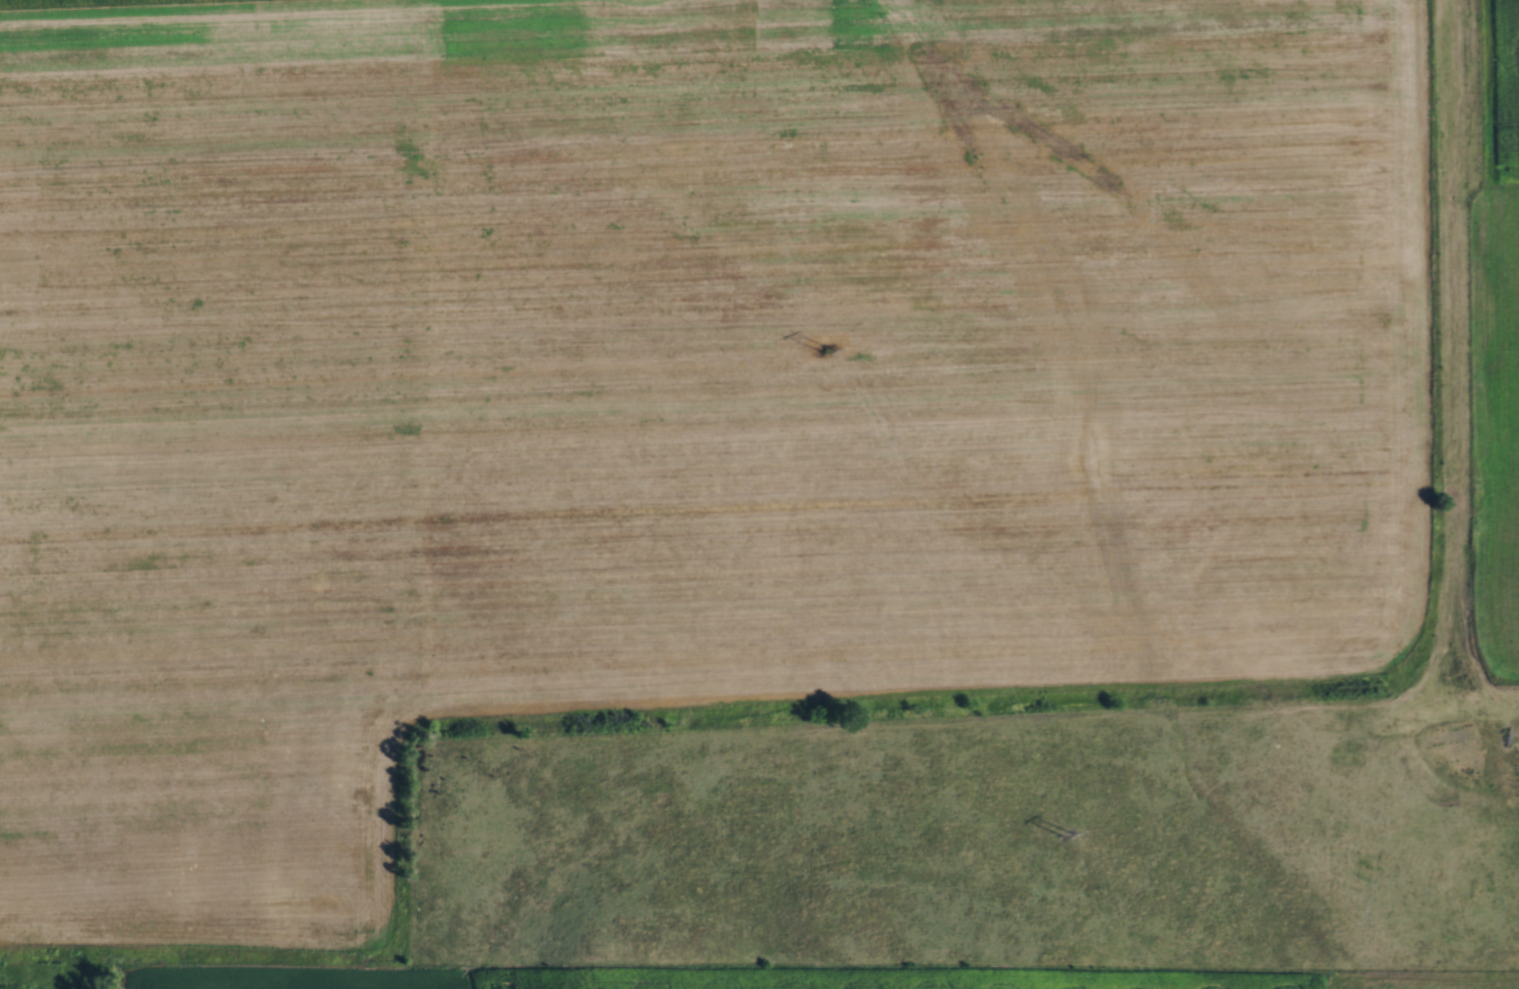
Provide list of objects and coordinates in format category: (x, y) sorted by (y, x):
power tower: (828, 349)
power tower: (1068, 832)

